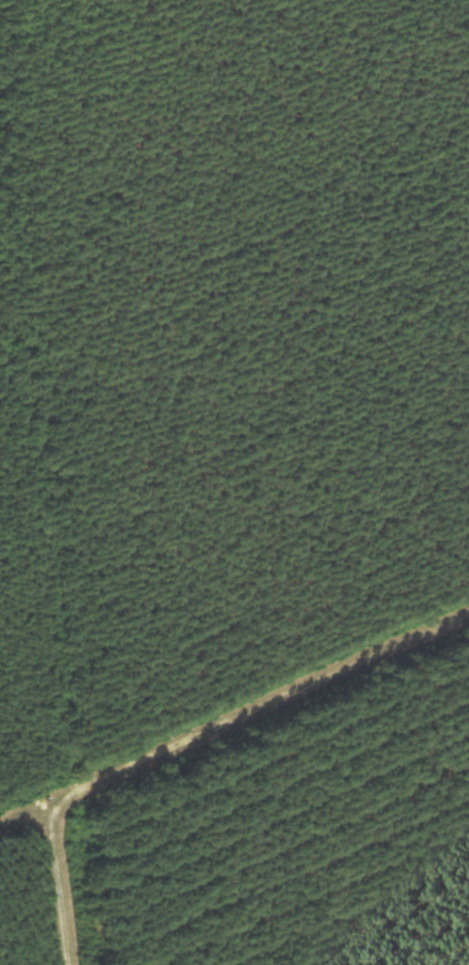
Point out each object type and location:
road: (230, 717)
road: (52, 889)

